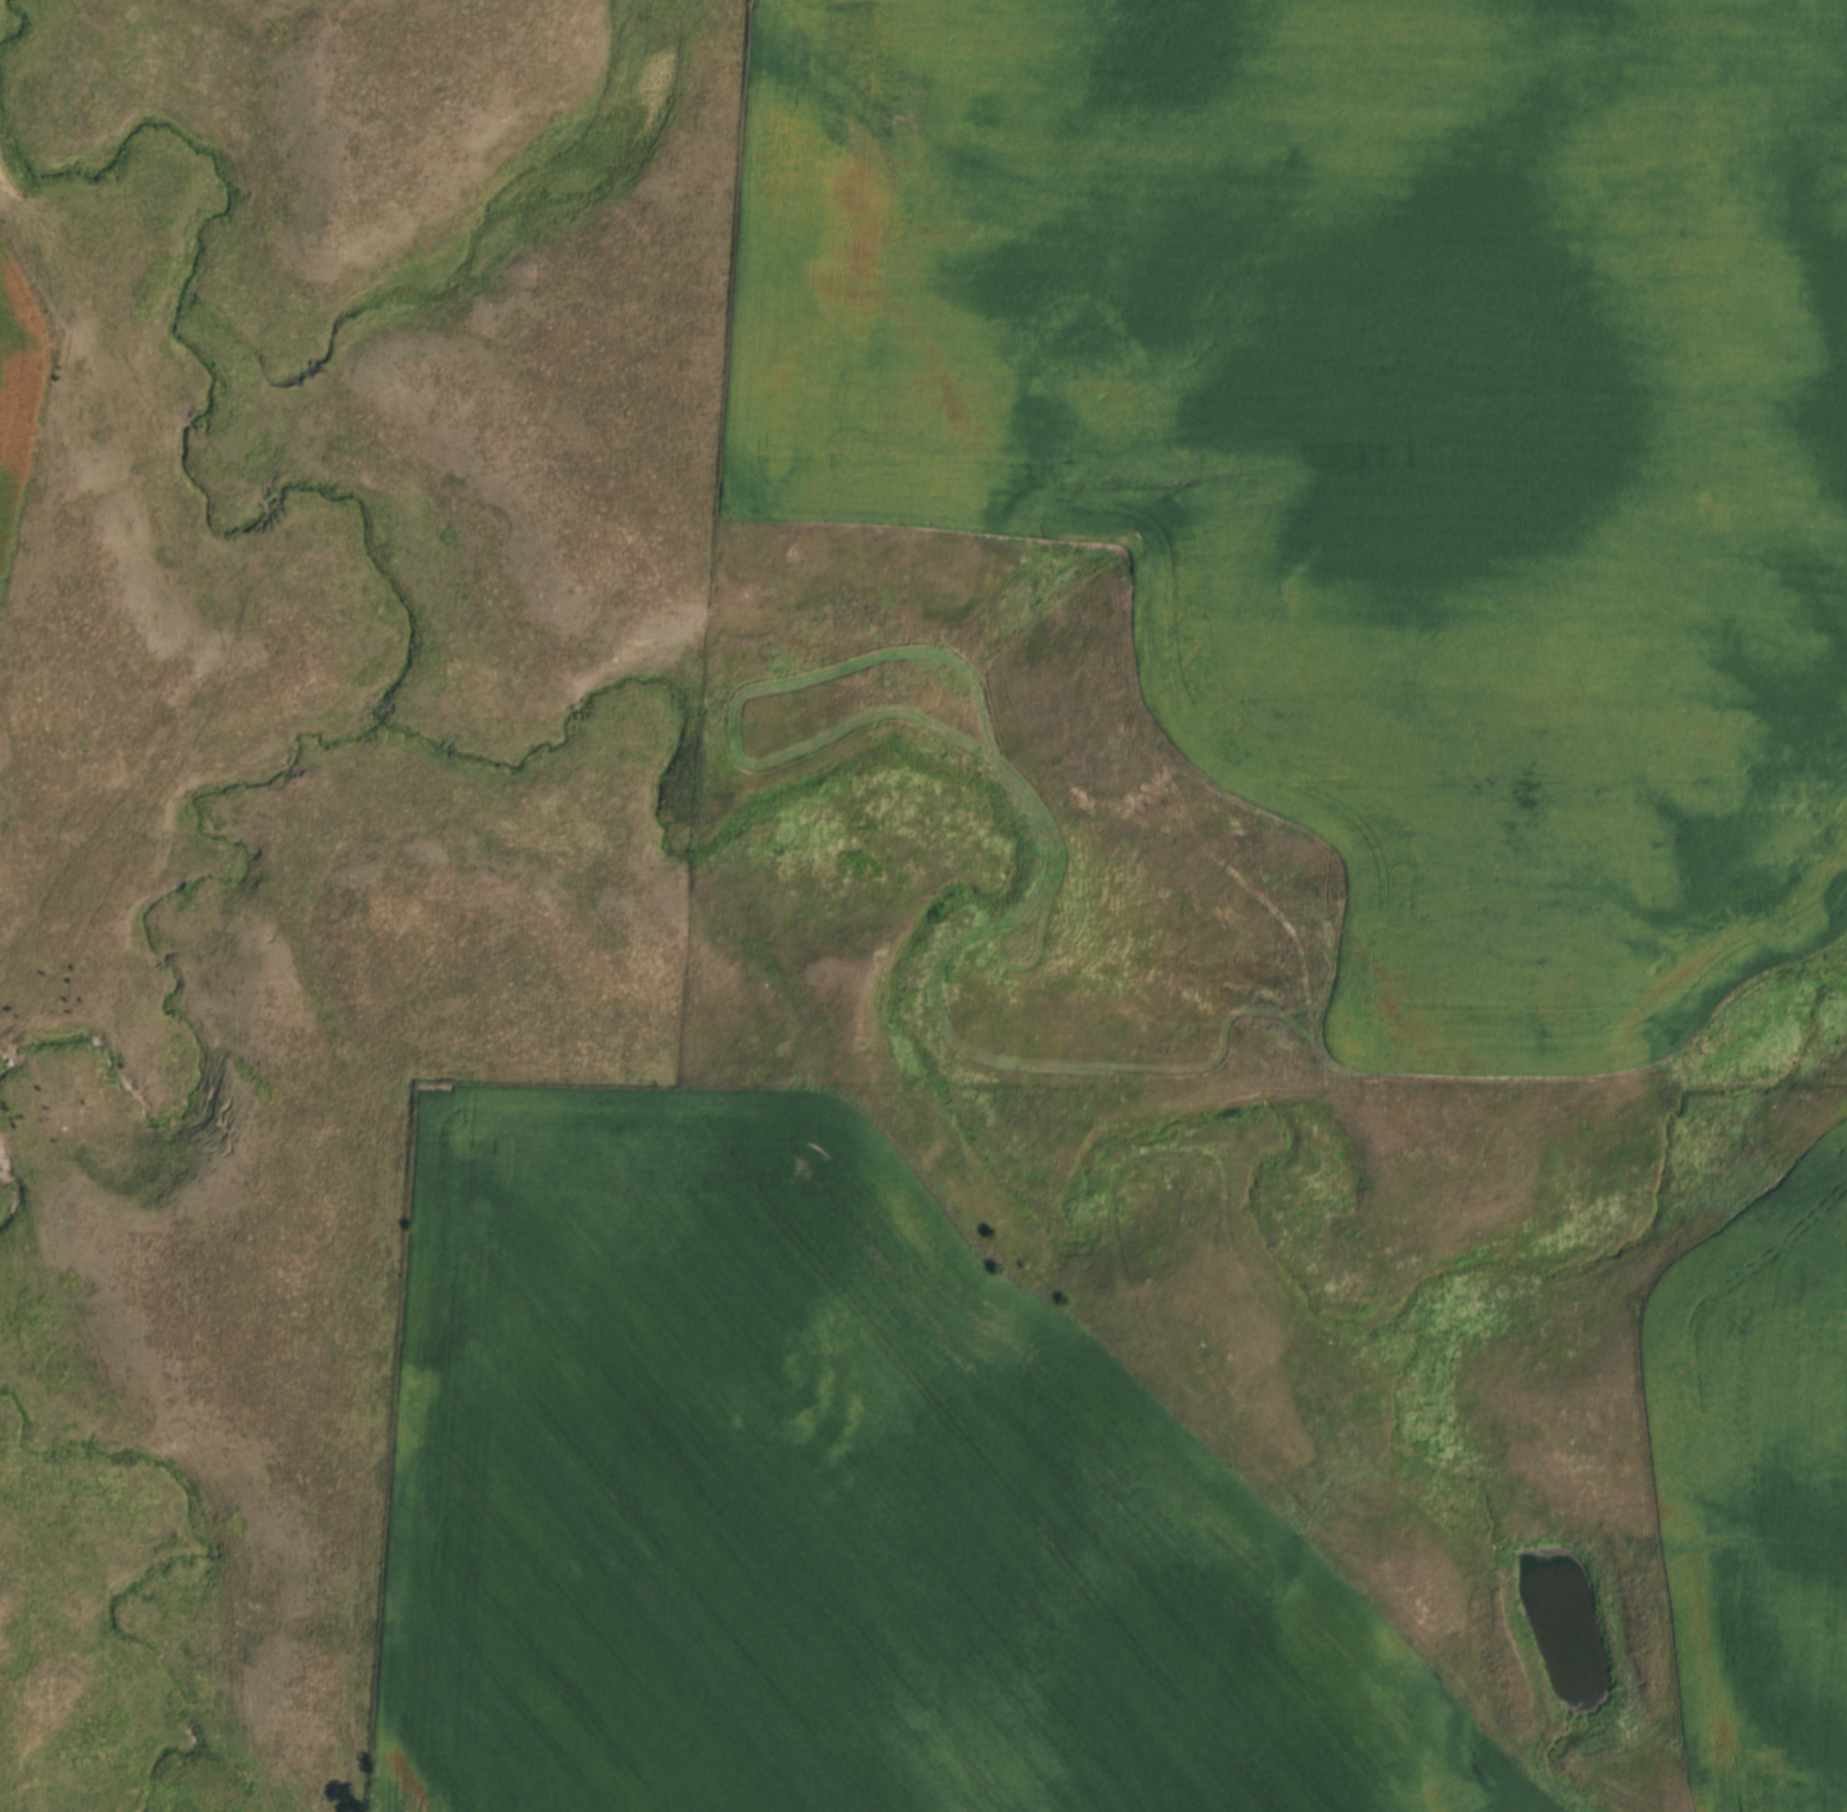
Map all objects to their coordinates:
crop: (1330, 323)
crop: (14, 382)
crop: (1755, 1490)

